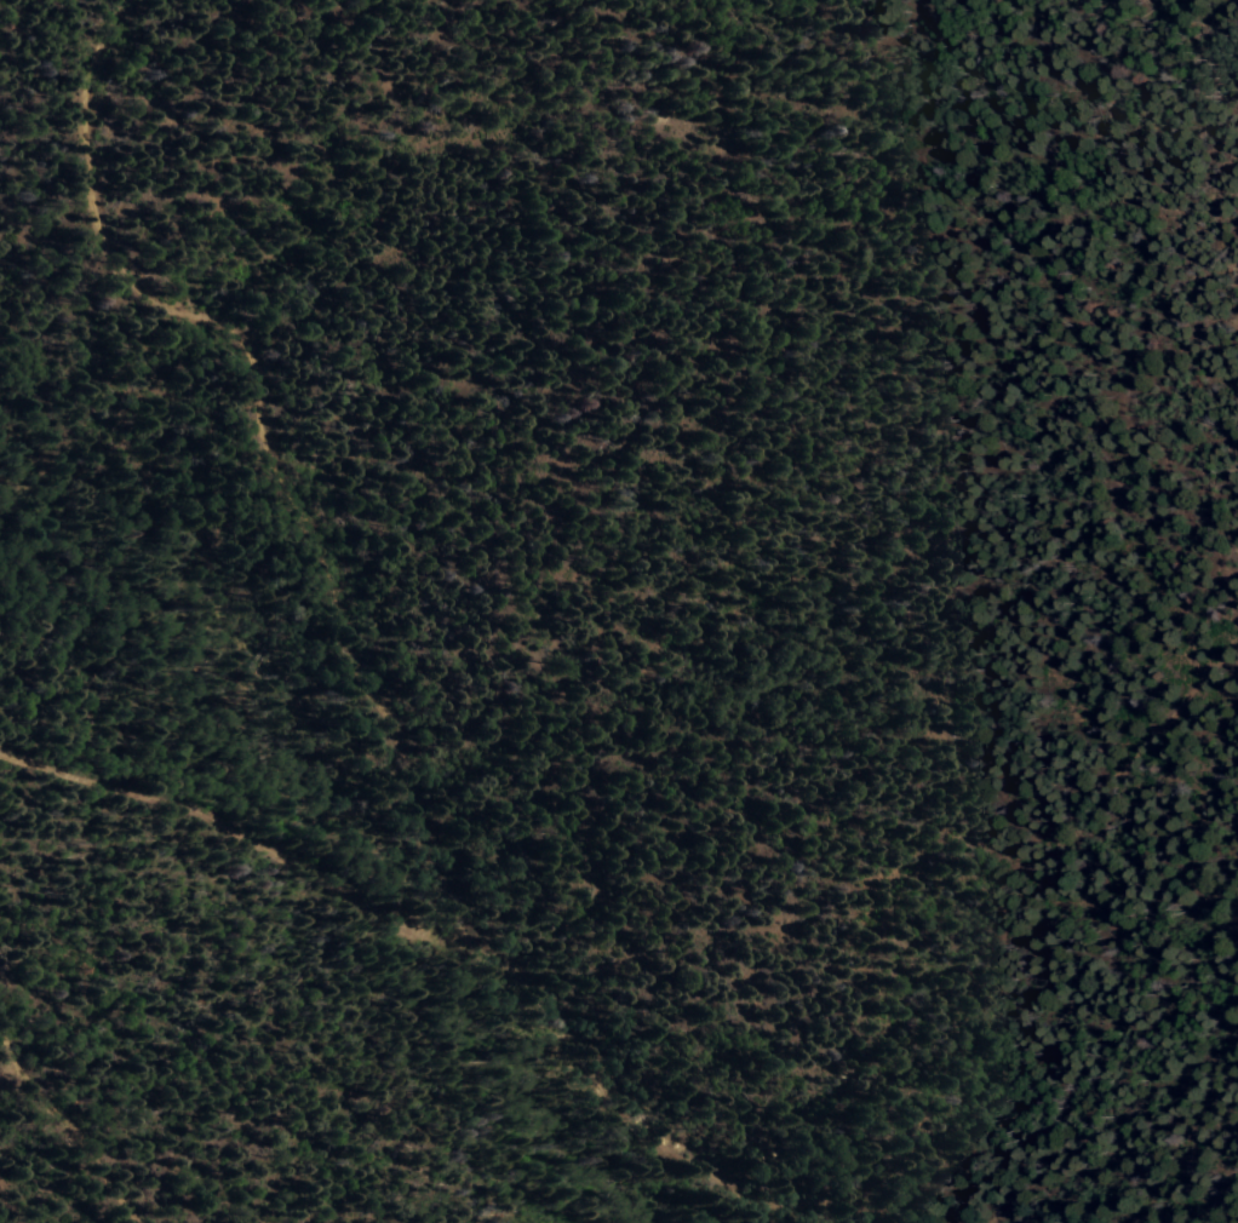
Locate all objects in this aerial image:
road: (69, 1124)
road: (730, 1182)

